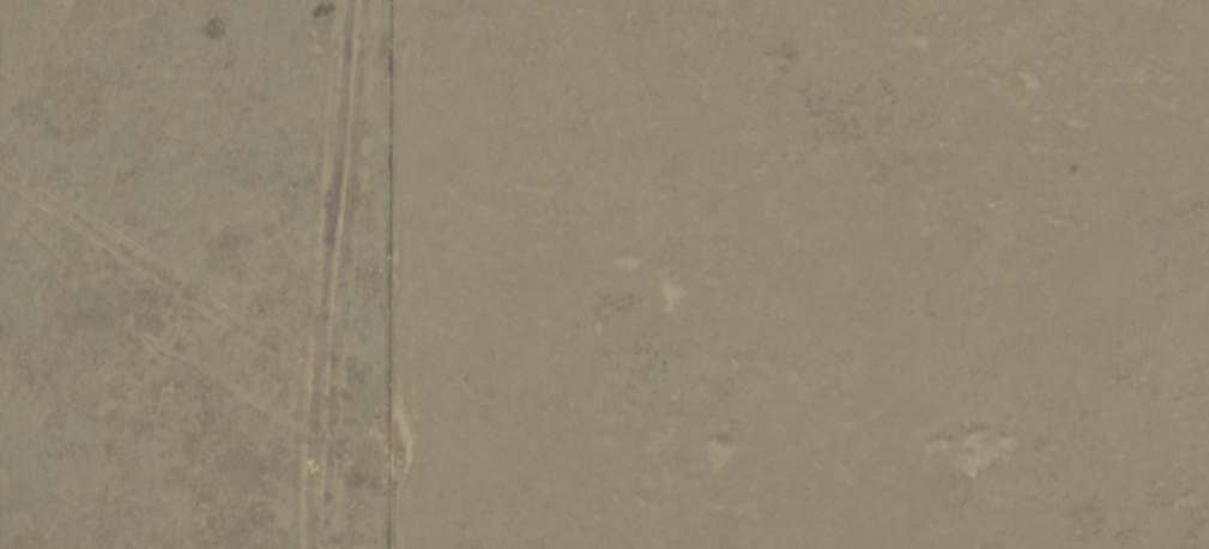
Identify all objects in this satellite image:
road: (336, 445)
road: (255, 505)

